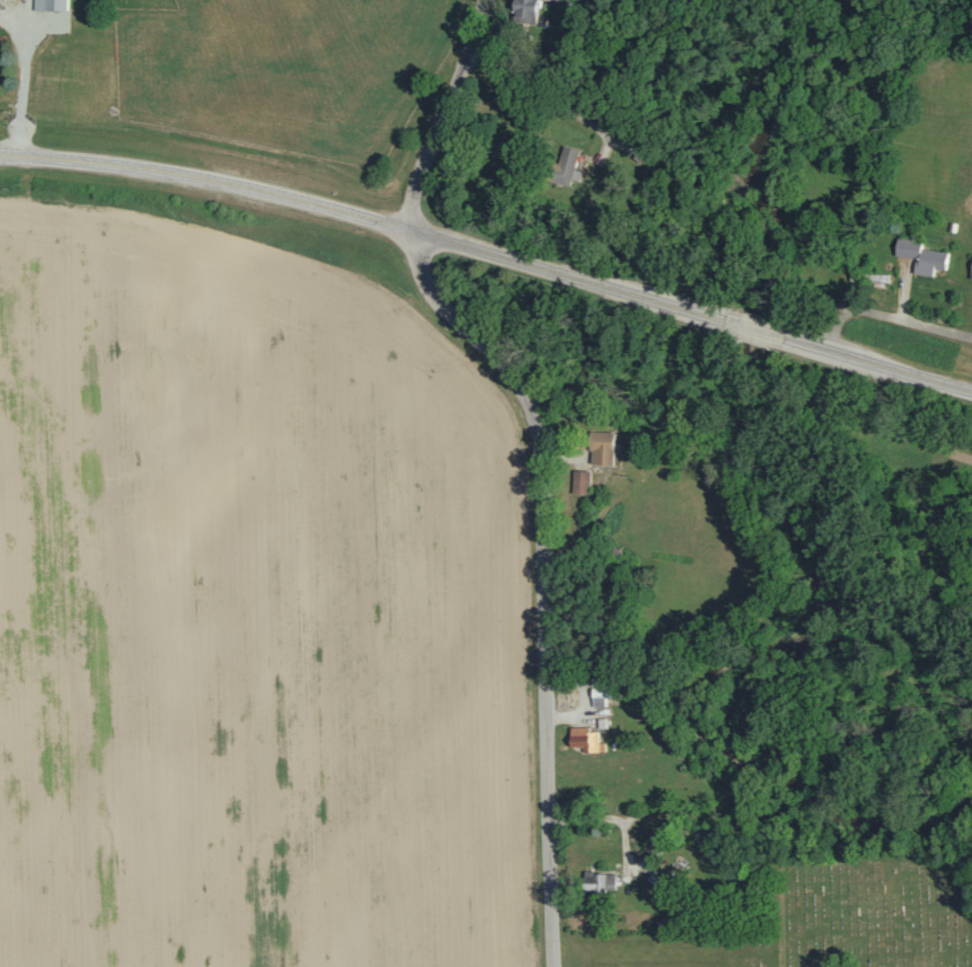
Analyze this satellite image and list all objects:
building: (49, 4)
building: (524, 10)
building: (564, 164)
road: (209, 176)
building: (955, 227)
building: (922, 257)
road: (574, 274)
building: (971, 274)
building: (870, 277)
road: (905, 294)
road: (886, 315)
road: (754, 326)
road: (872, 363)
building: (601, 448)
road: (540, 456)
building: (580, 481)
building: (599, 696)
building: (585, 739)
road: (626, 818)
building: (598, 881)
park: (826, 911)
road: (782, 922)

